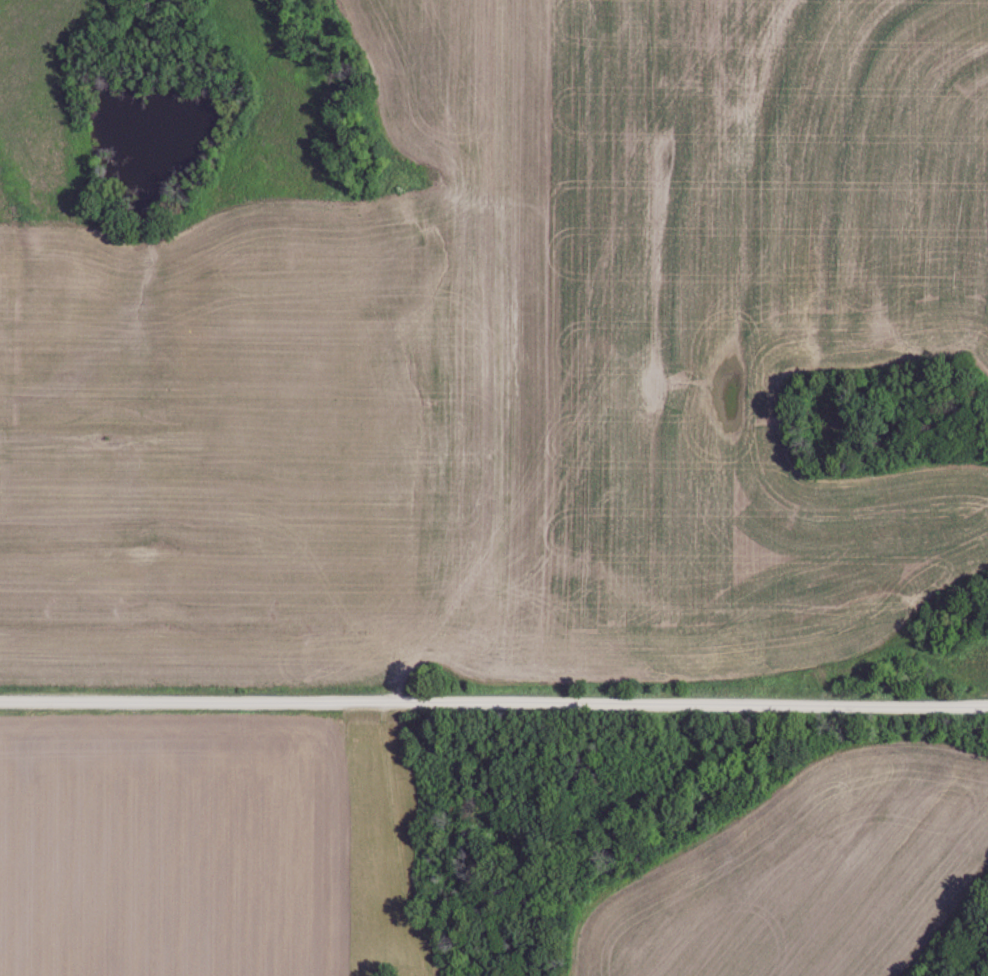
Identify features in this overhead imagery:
road: (493, 702)

